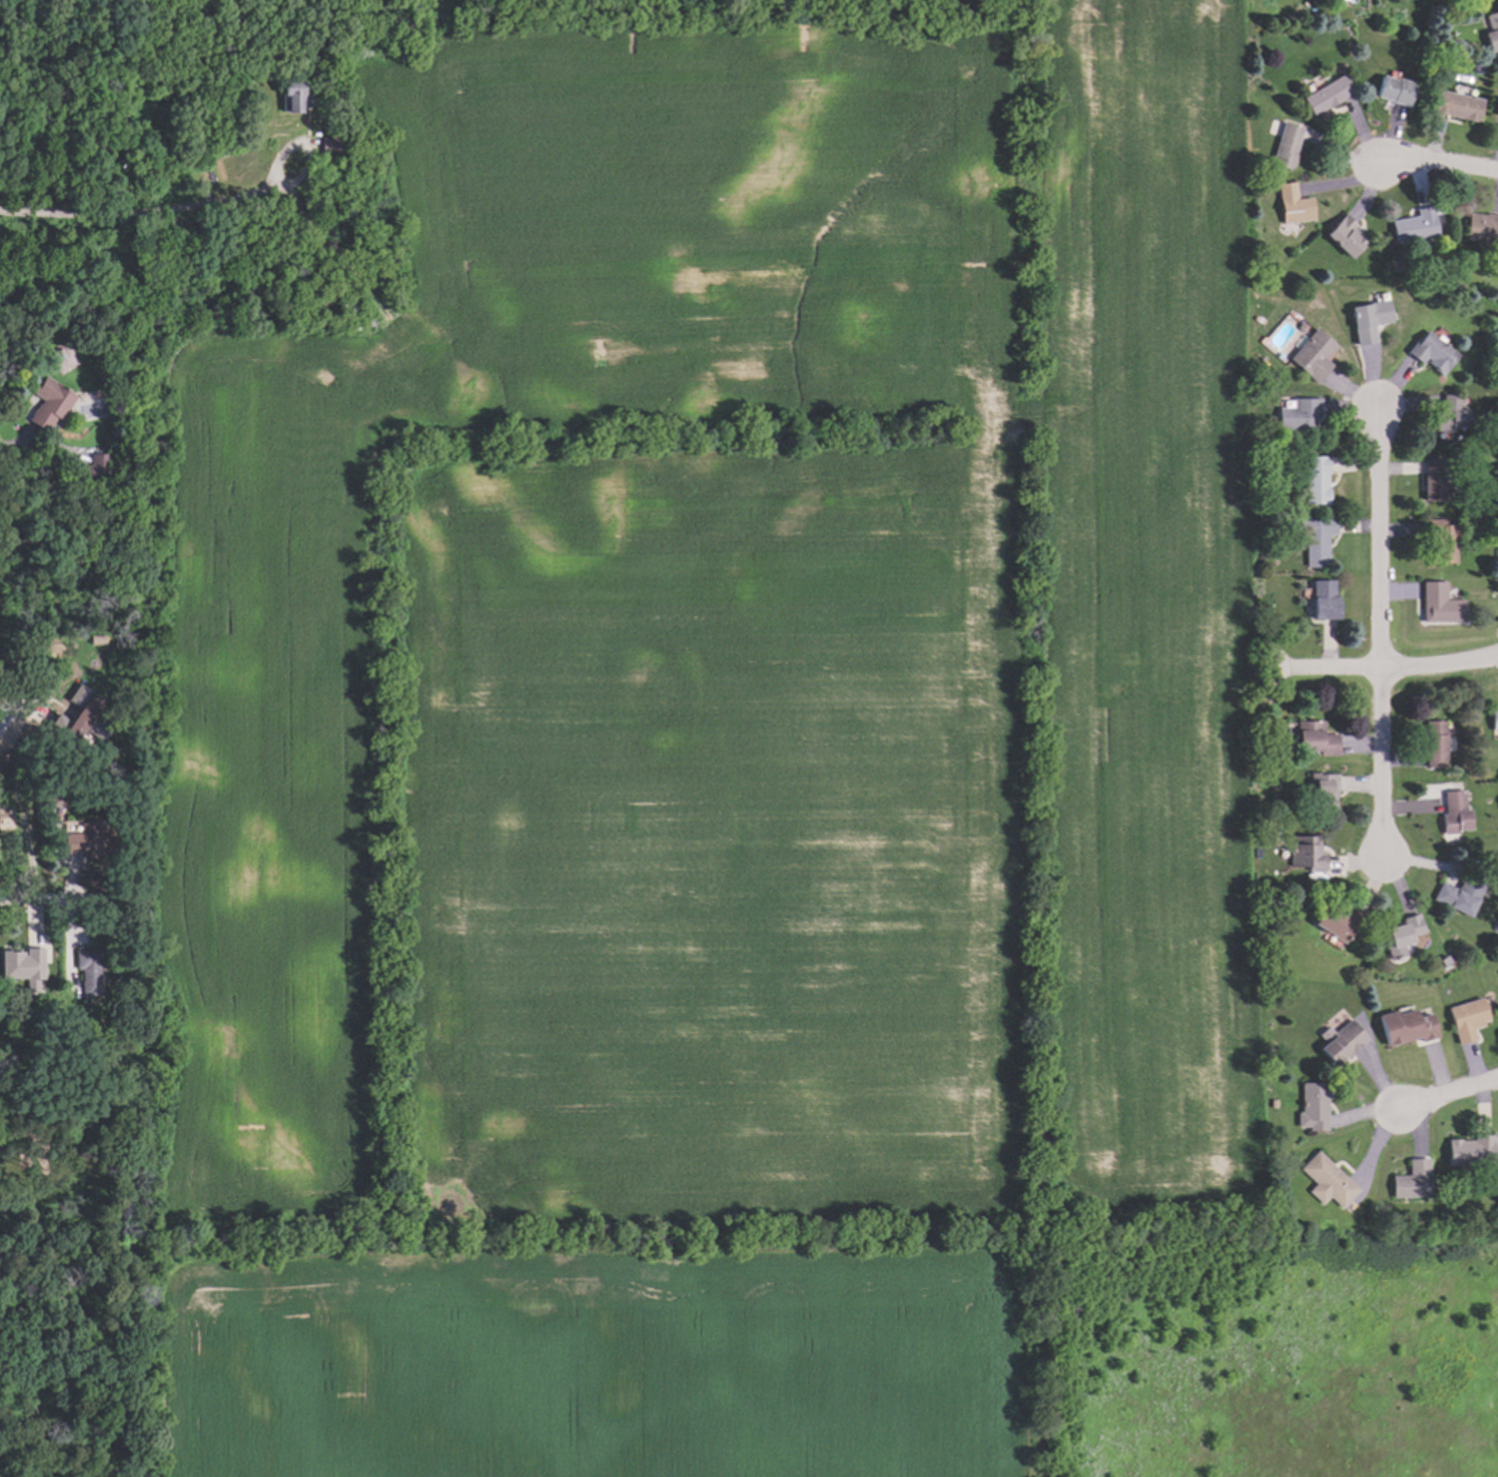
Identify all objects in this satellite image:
building: (1491, 31)
building: (1424, 67)
building: (1392, 90)
building: (291, 95)
building: (1326, 95)
building: (1455, 105)
building: (1496, 105)
building: (332, 145)
building: (1284, 147)
road: (1440, 163)
building: (1292, 204)
road: (197, 205)
road: (47, 216)
building: (339, 222)
building: (1414, 225)
building: (1480, 226)
building: (1345, 238)
building: (1440, 274)
building: (1431, 298)
building: (1367, 320)
building: (1299, 325)
building: (1433, 352)
building: (1312, 355)
building: (1253, 392)
building: (47, 403)
building: (1298, 413)
building: (1449, 413)
road: (12, 442)
building: (93, 469)
building: (1432, 478)
building: (1314, 480)
building: (1315, 539)
building: (1441, 540)
building: (1322, 600)
building: (1438, 603)
road: (1379, 636)
building: (95, 638)
road: (1397, 671)
road: (9, 713)
building: (80, 716)
building: (1492, 720)
building: (1313, 739)
building: (1432, 743)
crop: (709, 746)
building: (14, 783)
building: (1320, 791)
building: (54, 796)
building: (1453, 812)
building: (4, 814)
building: (87, 839)
building: (1305, 854)
building: (1457, 894)
road: (50, 898)
building: (1335, 923)
building: (1401, 932)
building: (21, 962)
building: (84, 970)
building: (1285, 990)
building: (1466, 1017)
building: (66, 1020)
building: (1402, 1026)
building: (1335, 1039)
road: (1449, 1094)
building: (1271, 1103)
building: (1312, 1104)
building: (1469, 1150)
building: (1411, 1178)
building: (1325, 1180)

